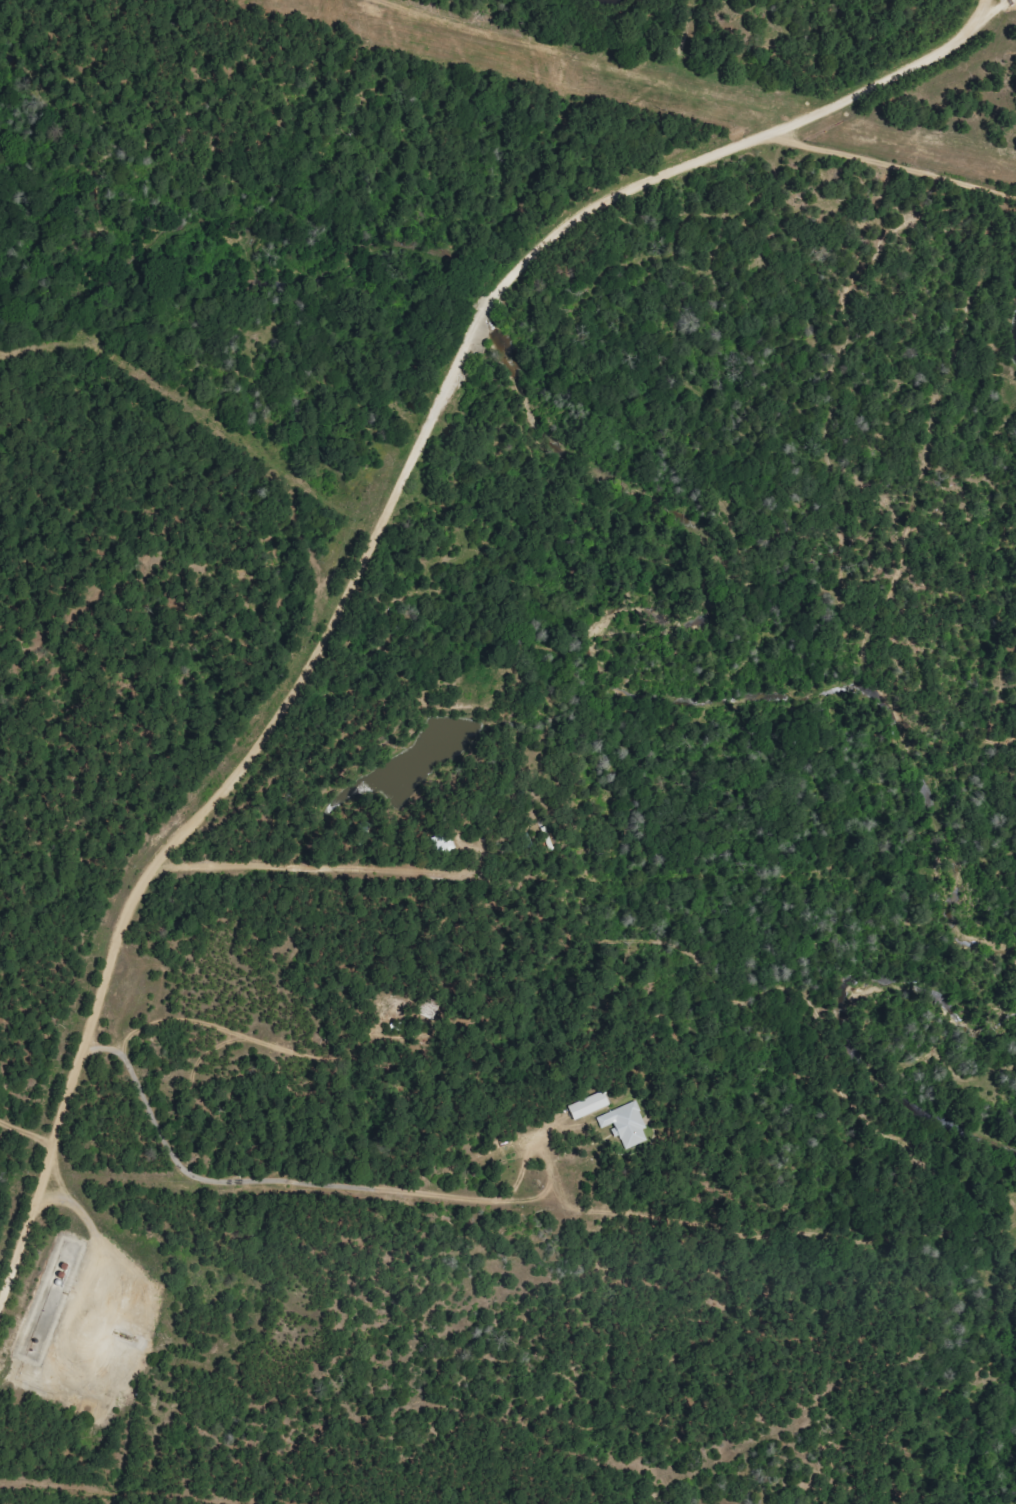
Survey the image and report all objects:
road: (858, 138)
road: (858, 203)
road: (370, 538)
building: (592, 1105)
building: (628, 1124)
petroleum well: (126, 1337)

